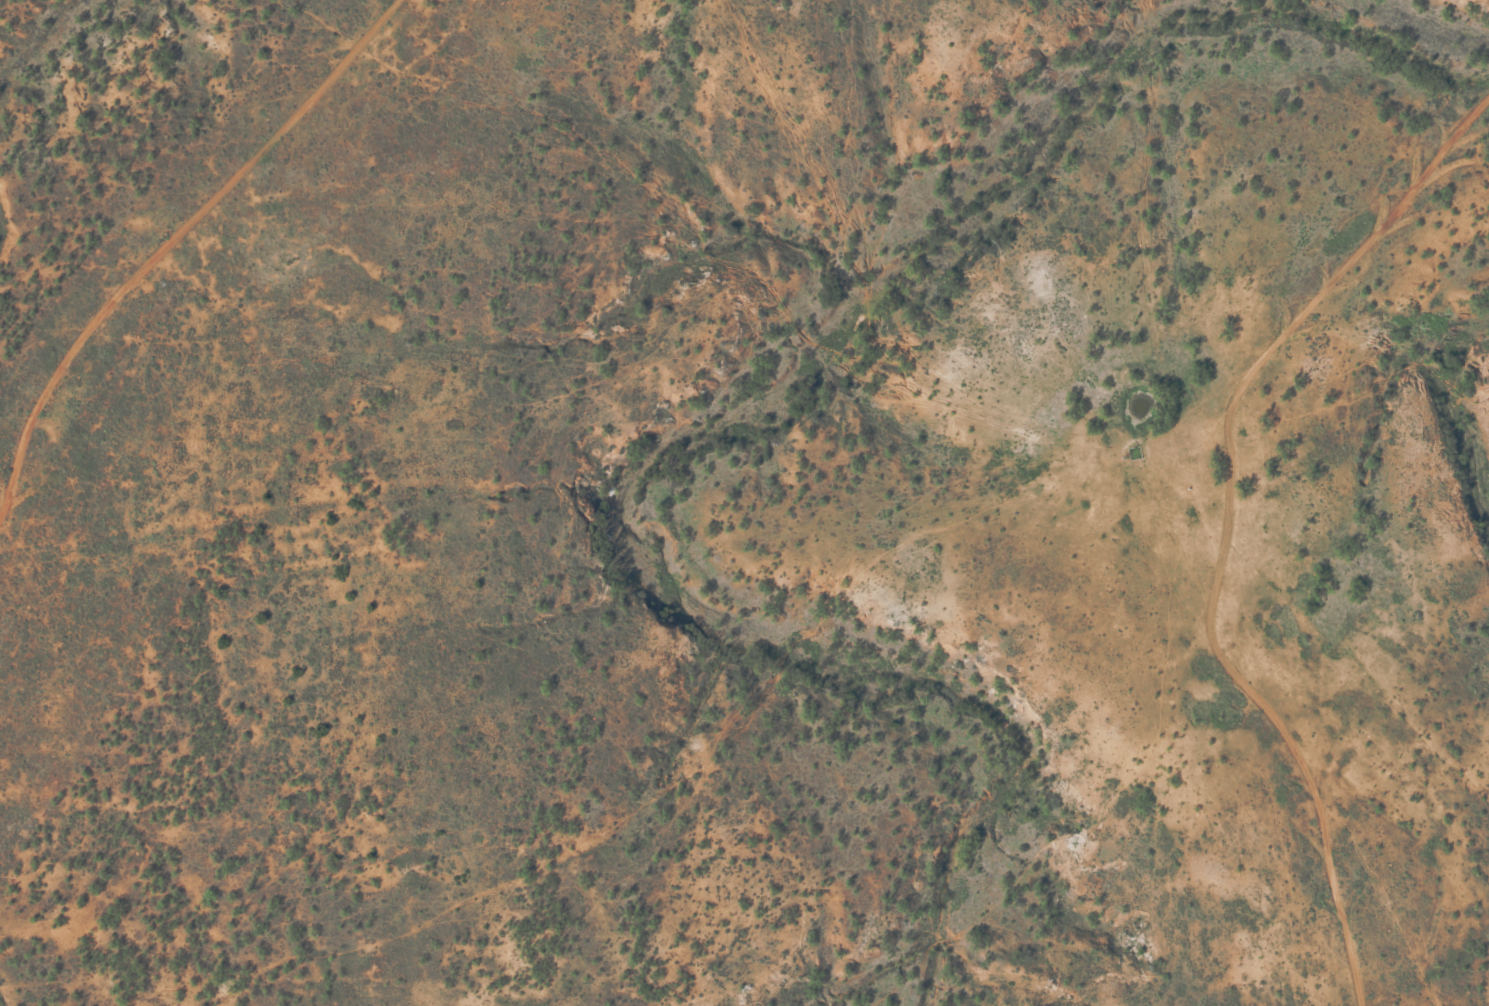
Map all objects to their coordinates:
road: (1265, 555)
road: (1333, 841)

